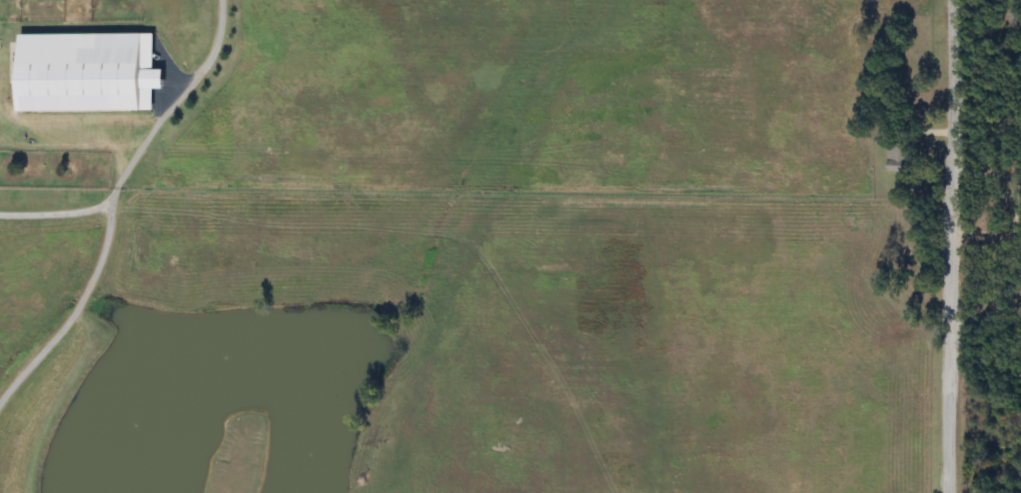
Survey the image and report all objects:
building: (88, 72)
building: (899, 156)
road: (989, 170)
road: (113, 197)
road: (55, 216)
road: (953, 246)

